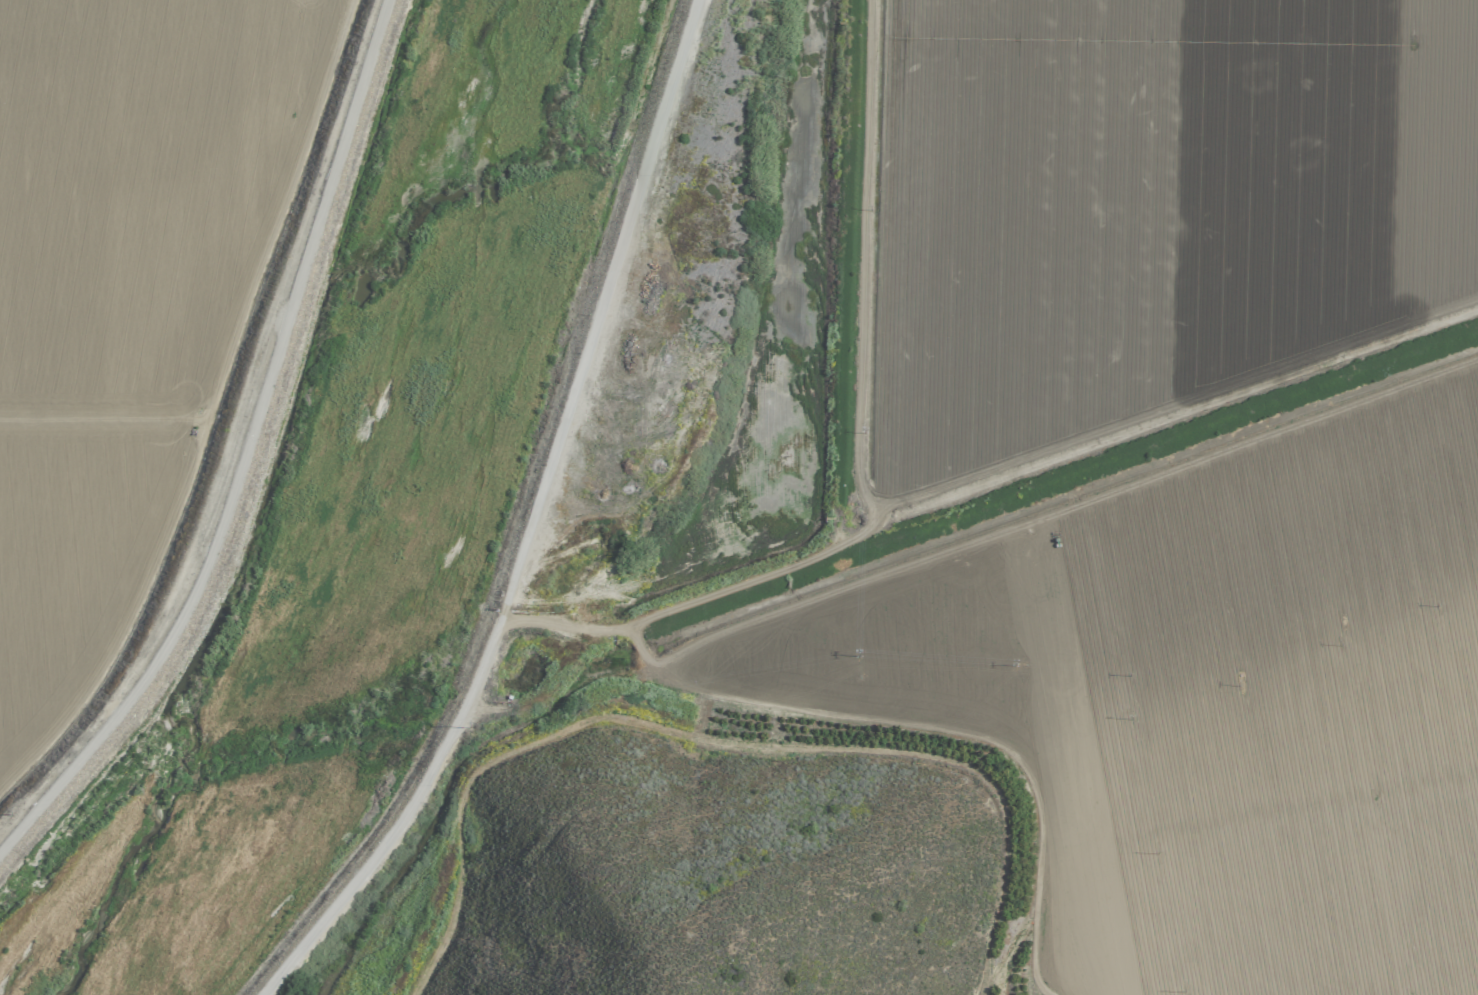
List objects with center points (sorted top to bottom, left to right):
road: (600, 300)
crop: (134, 308)
crop: (1117, 468)
river: (357, 531)
road: (572, 628)
road: (399, 810)

